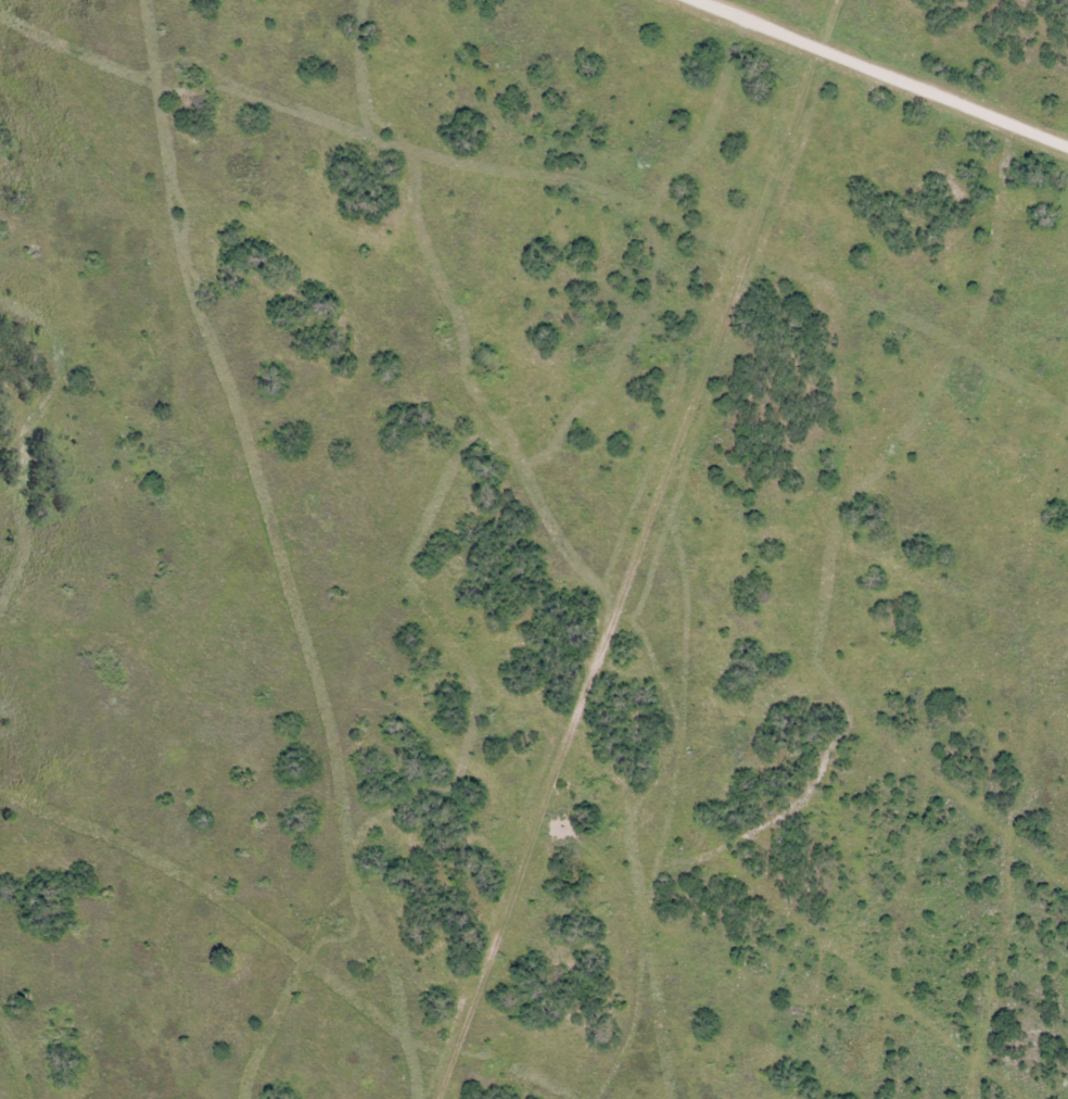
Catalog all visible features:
road: (880, 74)

